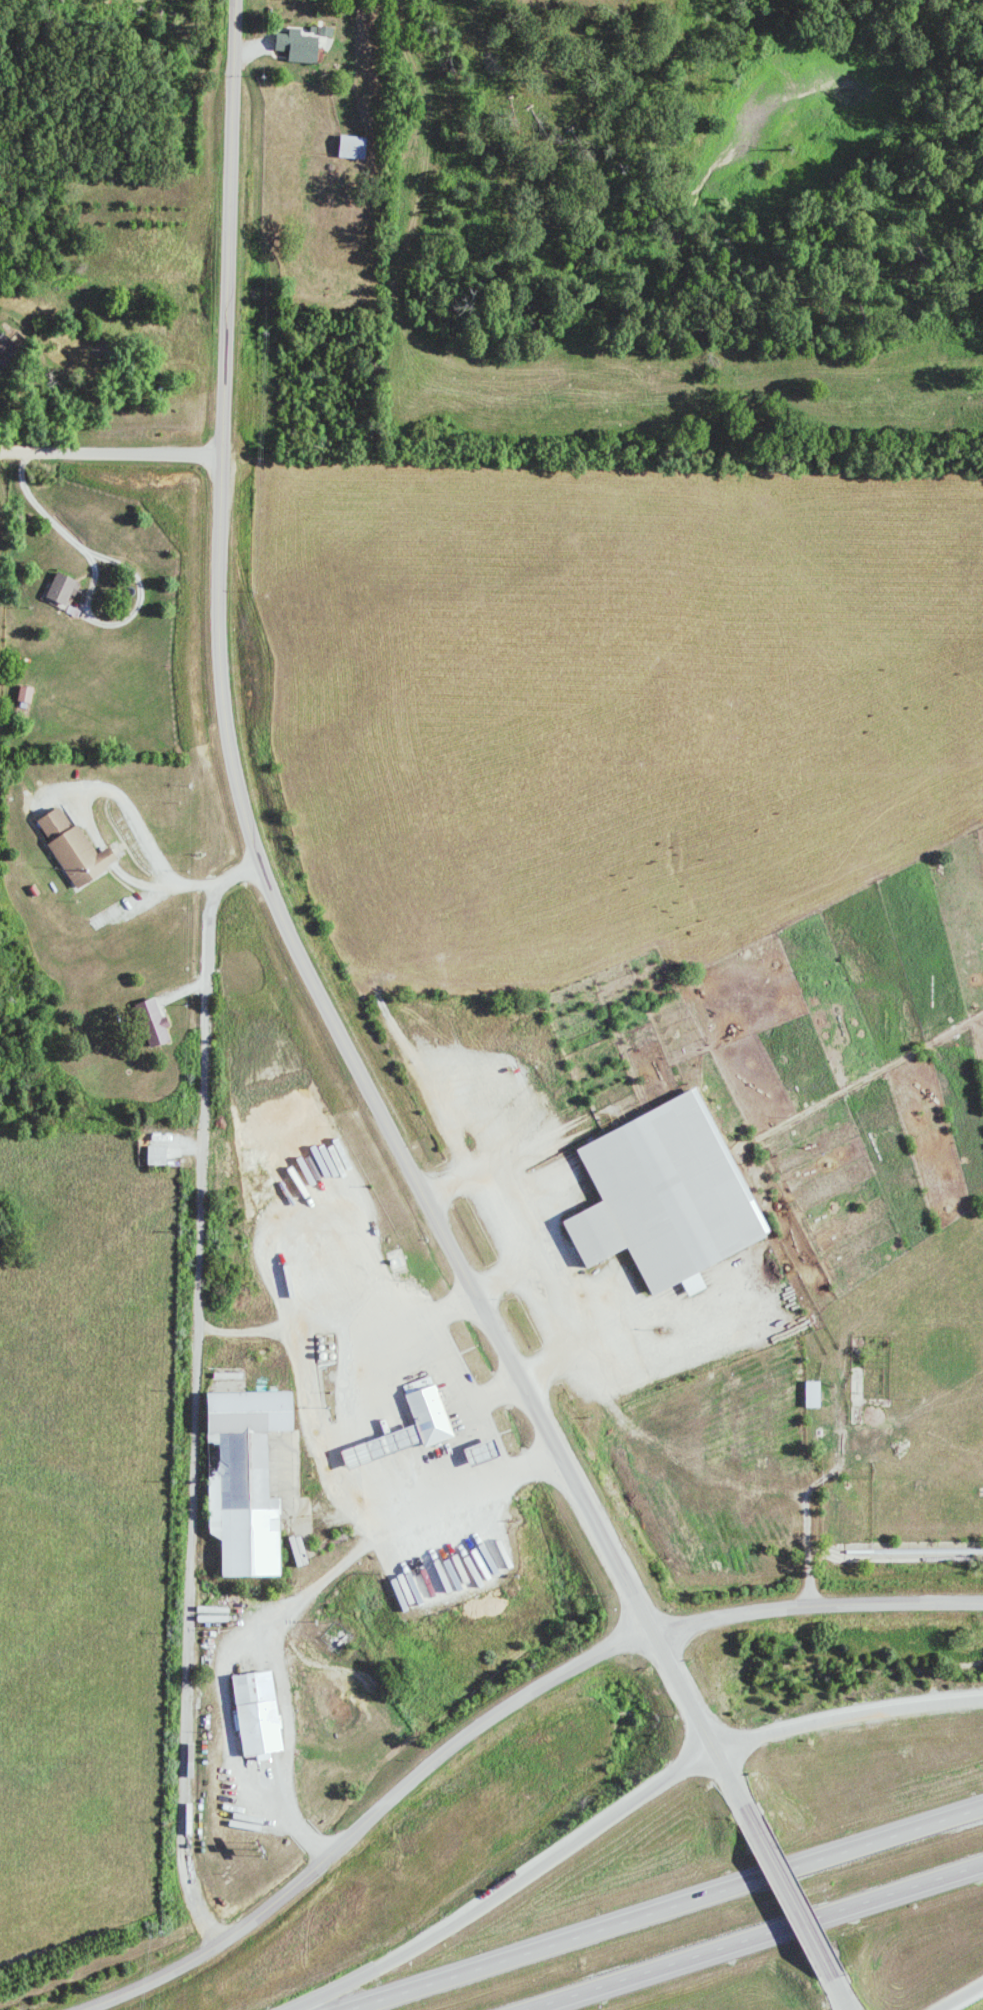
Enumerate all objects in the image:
building: (296, 47)
building: (350, 148)
building: (6, 350)
road: (110, 454)
road: (46, 512)
building: (60, 590)
road: (106, 624)
building: (24, 694)
road: (99, 788)
building: (73, 848)
road: (194, 882)
road: (302, 957)
building: (151, 1022)
building: (155, 1155)
building: (663, 1197)
road: (194, 1391)
building: (811, 1394)
building: (406, 1430)
building: (244, 1481)
road: (807, 1489)
road: (815, 1599)
road: (845, 1710)
road: (435, 1755)
road: (504, 1885)
road: (782, 1895)
road: (663, 1908)
road: (753, 1937)
road: (160, 1973)
road: (831, 1989)
road: (954, 1995)

